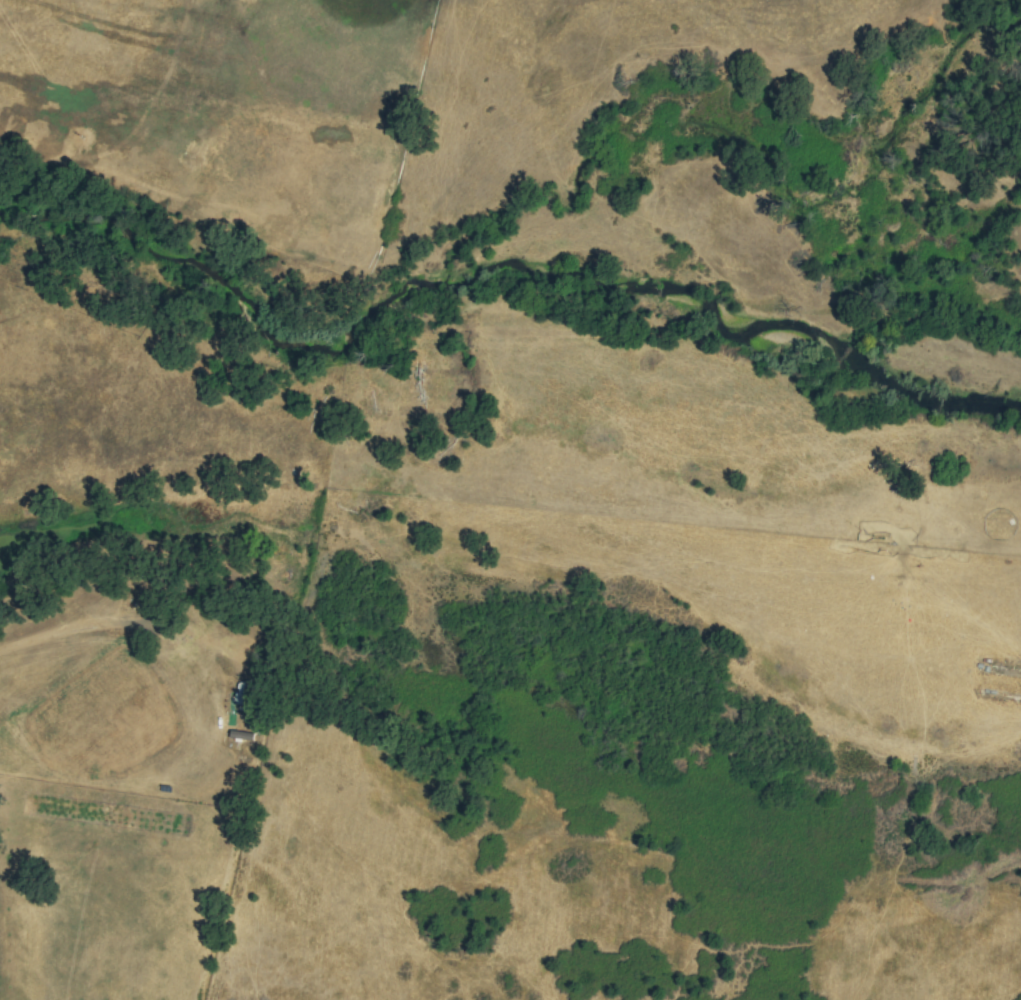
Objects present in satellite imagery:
road: (112, 624)

